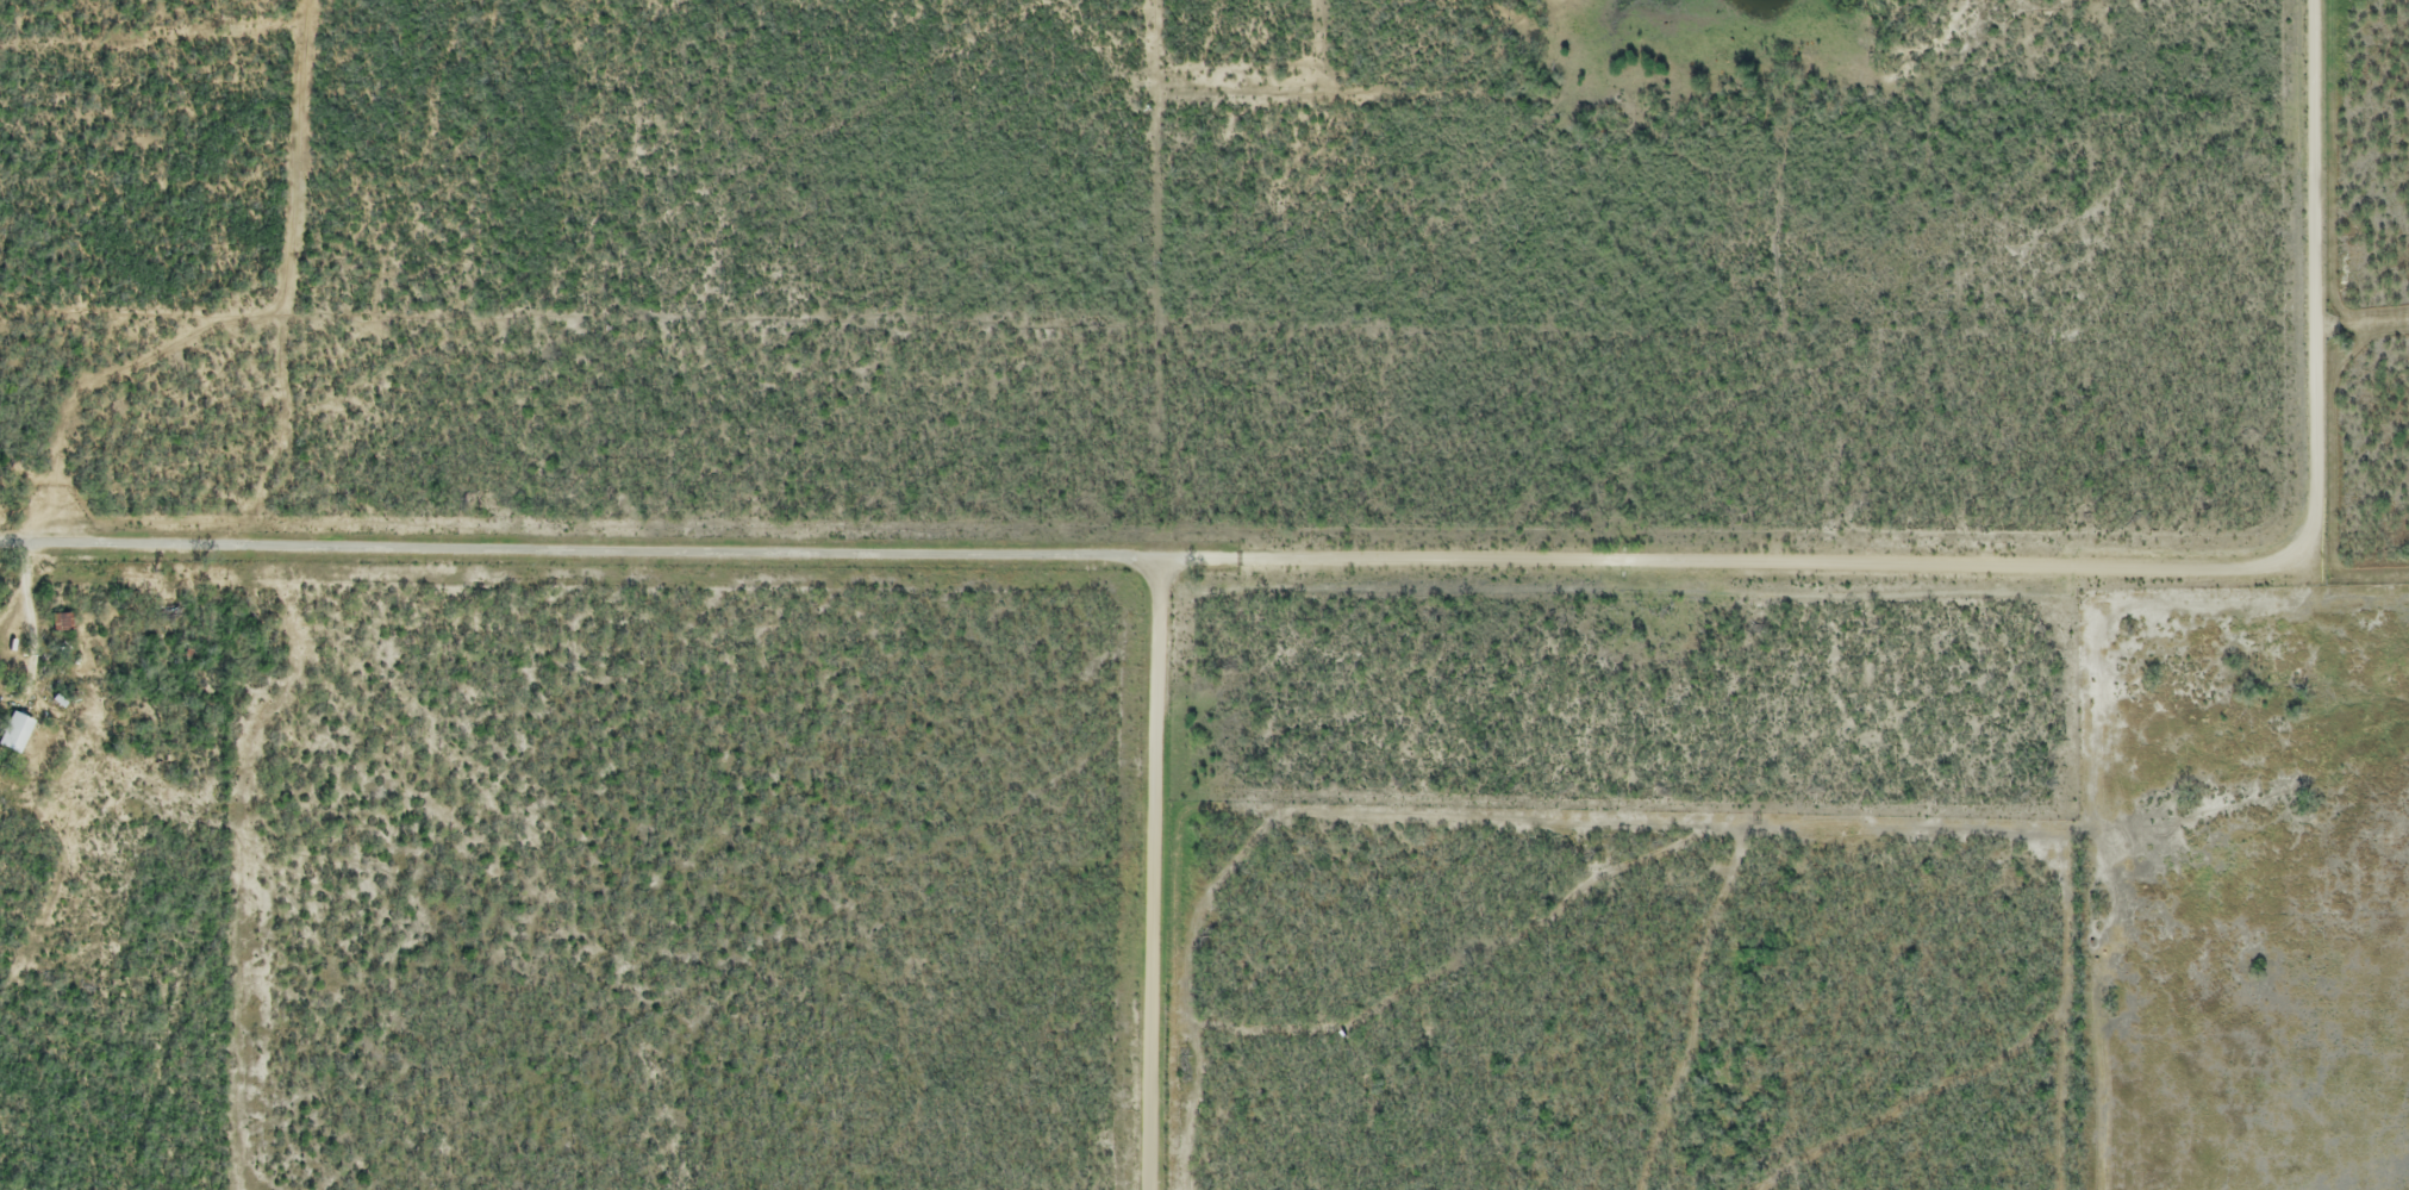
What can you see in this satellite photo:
road: (2305, 282)
road: (579, 557)
road: (1731, 562)
building: (62, 624)
building: (14, 735)
road: (1154, 874)

